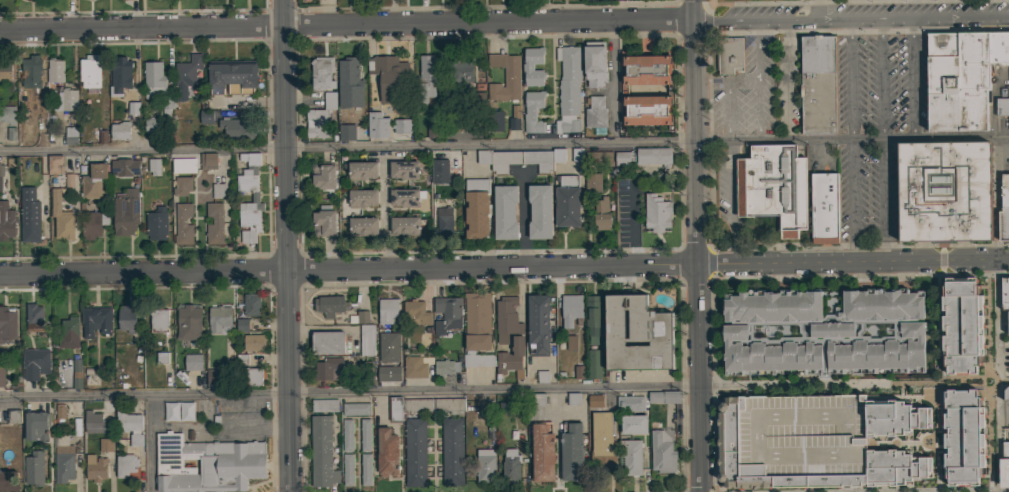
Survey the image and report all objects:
building: (121, 0)
park: (735, 0)
road: (857, 2)
road: (851, 17)
road: (346, 25)
building: (999, 48)
building: (729, 55)
building: (595, 63)
building: (528, 67)
building: (55, 70)
building: (5, 71)
building: (31, 71)
building: (90, 71)
building: (459, 71)
building: (322, 73)
building: (348, 74)
building: (120, 75)
building: (186, 75)
road: (847, 75)
road: (880, 75)
road: (909, 75)
building: (232, 76)
building: (389, 77)
building: (427, 77)
building: (505, 77)
road: (787, 80)
building: (957, 80)
road: (613, 82)
building: (818, 84)
building: (156, 85)
building: (568, 89)
building: (669, 90)
building: (586, 93)
building: (66, 100)
building: (1002, 106)
building: (132, 108)
building: (533, 111)
building: (7, 115)
building: (596, 115)
building: (206, 117)
building: (321, 117)
building: (514, 118)
building: (495, 121)
building: (153, 125)
building: (378, 125)
building: (454, 125)
building: (476, 125)
building: (402, 126)
building: (236, 128)
building: (120, 131)
building: (346, 133)
road: (879, 133)
building: (71, 136)
road: (706, 138)
road: (905, 139)
road: (681, 141)
road: (704, 141)
road: (641, 142)
road: (307, 148)
building: (578, 155)
building: (653, 156)
building: (483, 157)
building: (622, 157)
road: (383, 158)
building: (602, 158)
building: (526, 160)
building: (208, 161)
building: (55, 164)
building: (184, 165)
building: (124, 167)
building: (153, 168)
building: (0, 169)
building: (405, 169)
building: (362, 170)
building: (439, 170)
building: (323, 175)
building: (68, 181)
building: (92, 181)
building: (594, 182)
building: (182, 186)
building: (773, 186)
building: (218, 190)
building: (944, 191)
building: (0, 192)
building: (1004, 193)
building: (404, 197)
building: (255, 198)
building: (363, 198)
road: (851, 200)
road: (883, 200)
building: (567, 201)
building: (477, 208)
building: (824, 208)
building: (540, 211)
building: (125, 212)
building: (505, 212)
building: (656, 212)
road: (386, 213)
building: (601, 213)
building: (29, 216)
building: (61, 217)
road: (523, 220)
building: (6, 221)
building: (444, 221)
building: (183, 223)
building: (324, 223)
building: (93, 224)
building: (156, 224)
building: (214, 224)
building: (405, 225)
building: (1003, 225)
building: (363, 226)
road: (287, 246)
road: (695, 246)
road: (994, 250)
road: (852, 261)
road: (347, 268)
building: (1005, 293)
building: (251, 304)
building: (330, 305)
building: (571, 310)
building: (387, 311)
building: (416, 312)
building: (447, 314)
building: (359, 317)
building: (592, 317)
building: (35, 318)
building: (127, 319)
building: (506, 319)
building: (96, 320)
building: (159, 320)
building: (220, 320)
building: (1008, 322)
building: (189, 323)
building: (7, 324)
building: (538, 324)
building: (242, 325)
building: (961, 325)
building: (822, 332)
building: (69, 333)
building: (636, 334)
building: (418, 337)
building: (487, 339)
building: (366, 340)
building: (254, 342)
building: (327, 342)
building: (571, 342)
building: (386, 348)
building: (162, 357)
building: (241, 359)
building: (34, 362)
building: (192, 362)
building: (594, 363)
building: (383, 366)
building: (416, 366)
building: (445, 367)
building: (328, 369)
building: (579, 371)
building: (77, 374)
building: (385, 375)
road: (986, 375)
building: (214, 376)
building: (253, 376)
road: (934, 376)
building: (2, 377)
building: (542, 377)
road: (971, 382)
road: (816, 385)
road: (348, 392)
building: (1005, 393)
building: (664, 397)
building: (538, 399)
building: (573, 399)
building: (595, 401)
building: (630, 404)
building: (324, 405)
building: (416, 405)
building: (449, 405)
building: (395, 408)
building: (356, 409)
building: (177, 412)
building: (58, 415)
building: (13, 416)
building: (128, 421)
building: (95, 423)
building: (633, 424)
building: (36, 426)
building: (347, 435)
building: (365, 435)
building: (962, 436)
building: (602, 439)
building: (136, 440)
building: (815, 442)
road: (150, 443)
building: (105, 444)
building: (571, 451)
building: (322, 452)
building: (387, 452)
building: (415, 452)
building: (452, 452)
building: (542, 452)
building: (662, 452)
building: (630, 456)
building: (63, 458)
building: (207, 464)
building: (125, 465)
building: (485, 466)
building: (510, 466)
building: (1004, 466)
building: (34, 468)
building: (95, 468)
building: (348, 469)
building: (365, 469)
building: (9, 481)

